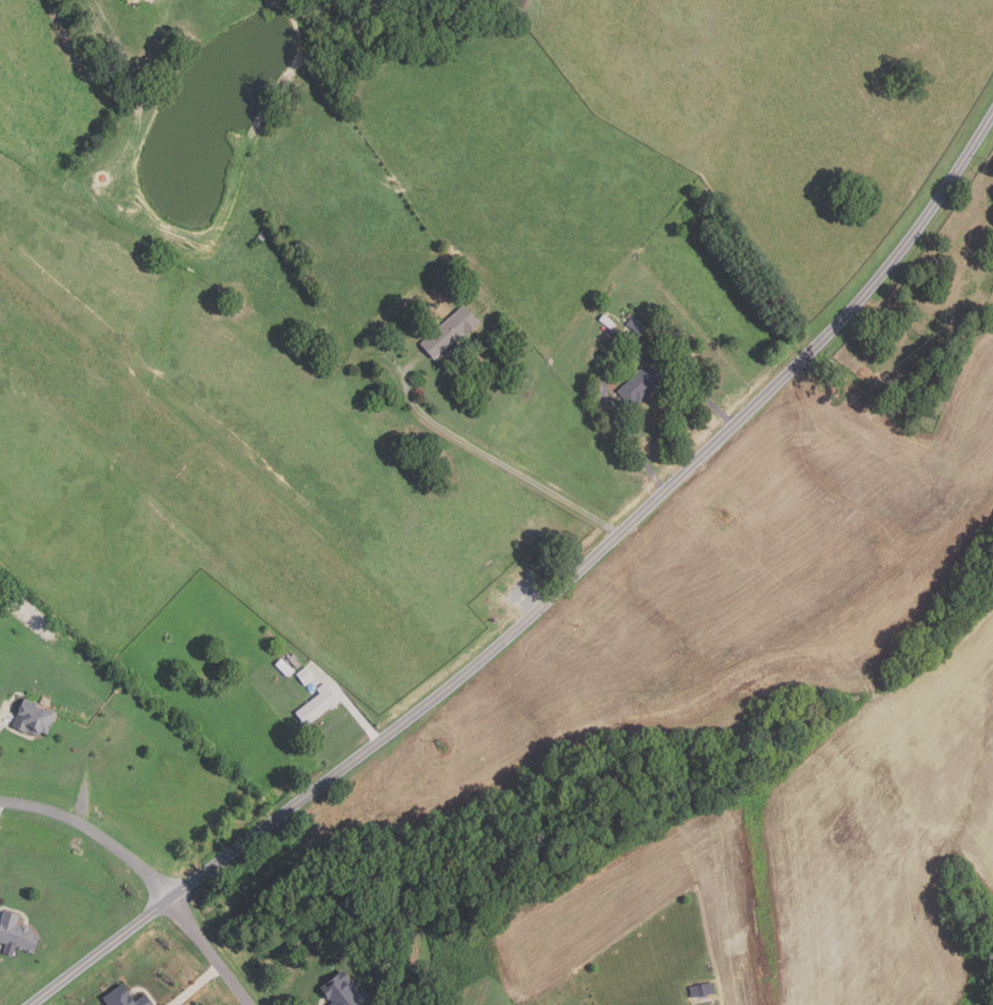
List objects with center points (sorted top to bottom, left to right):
building: (262, 236)
building: (608, 322)
building: (637, 324)
building: (450, 331)
road: (615, 361)
building: (640, 385)
road: (499, 461)
road: (549, 600)
building: (294, 660)
building: (283, 666)
building: (305, 675)
road: (347, 702)
building: (318, 704)
road: (4, 714)
building: (33, 718)
road: (147, 873)
building: (16, 934)
road: (197, 985)
building: (703, 990)
building: (343, 991)
building: (124, 997)

